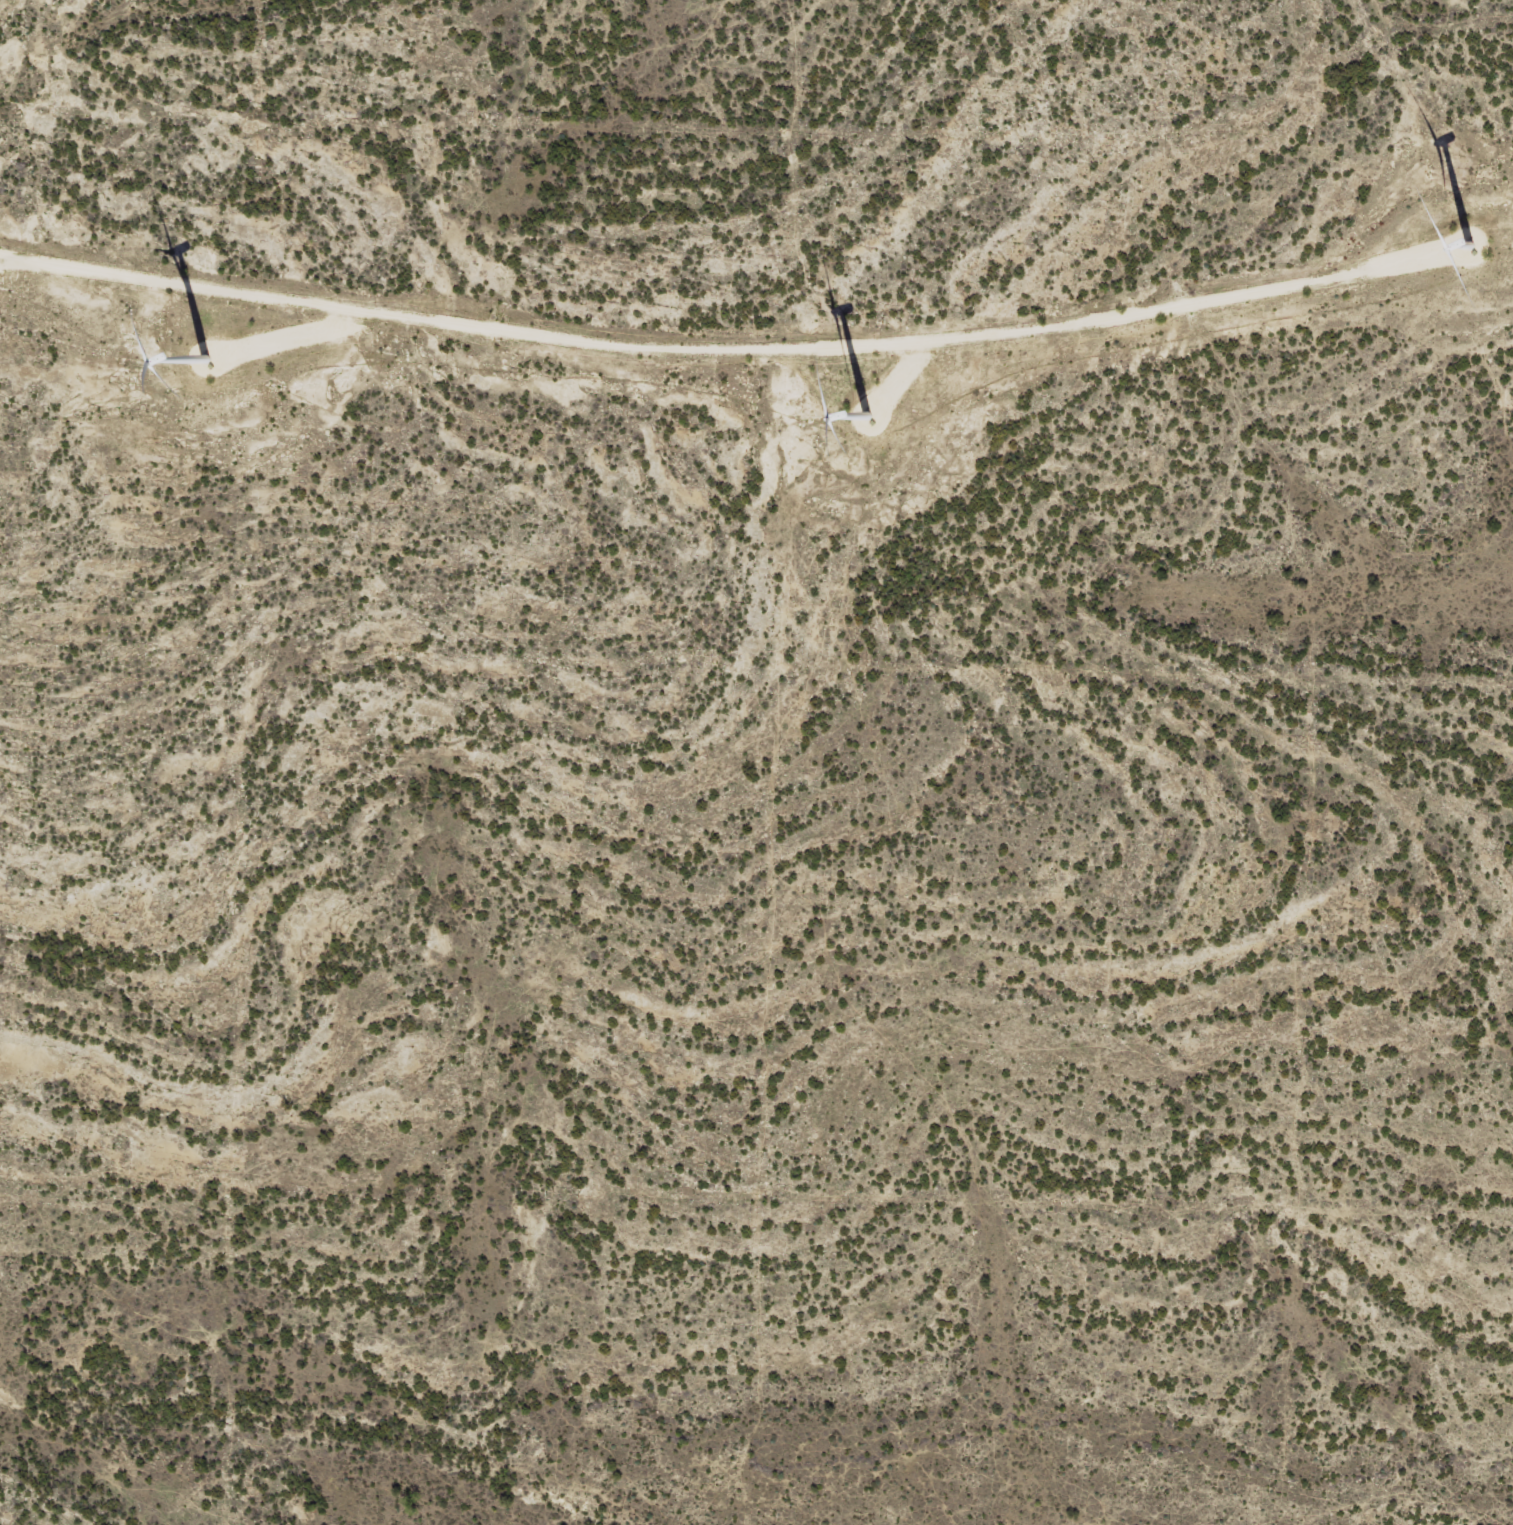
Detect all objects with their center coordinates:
wind turbine: (1464, 248)
road: (718, 349)
wind turbine: (196, 364)
wind turbine: (866, 413)

